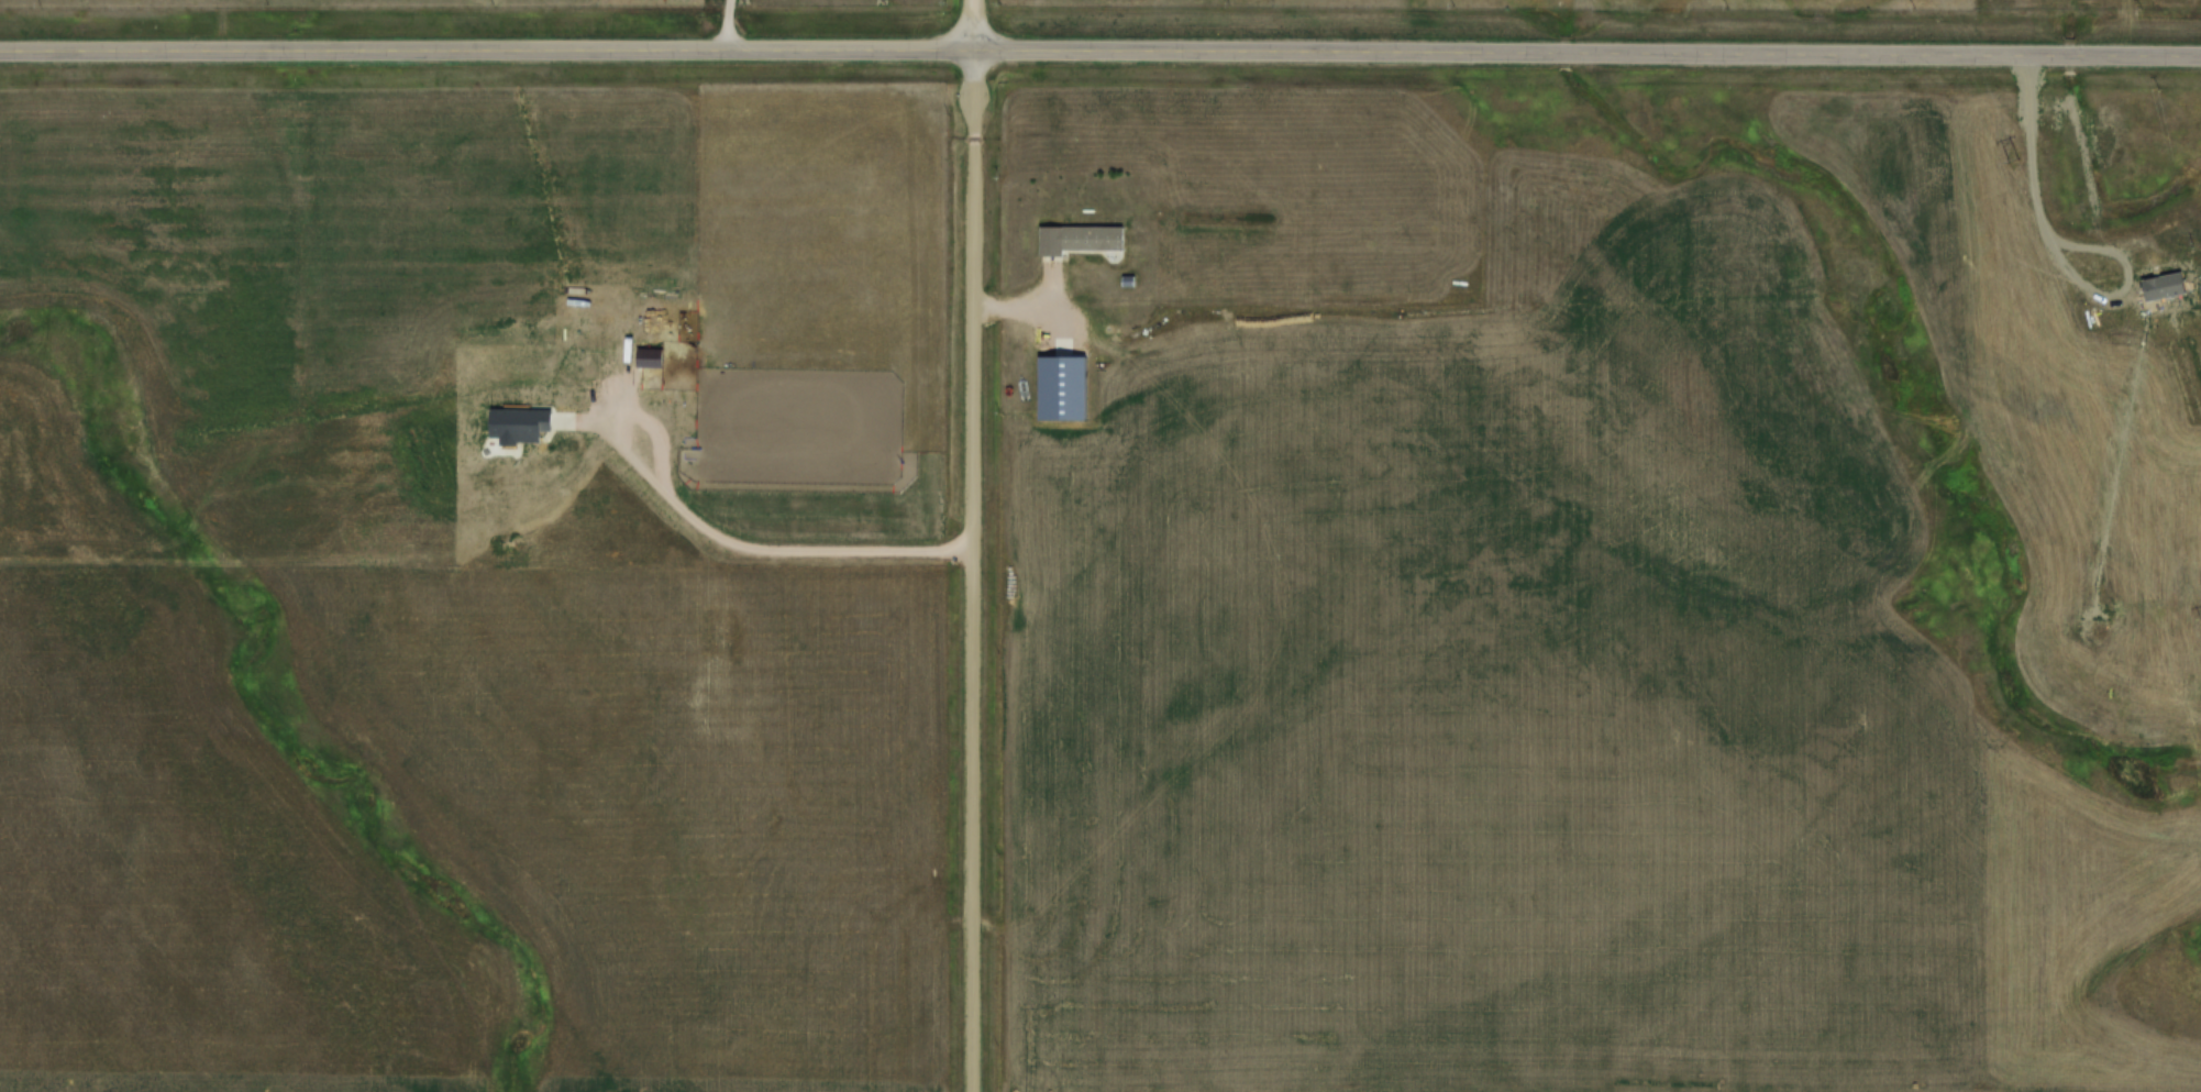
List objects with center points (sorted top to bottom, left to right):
road: (1100, 51)
power tower: (2012, 159)
building: (1082, 239)
road: (967, 545)
building: (939, 840)

